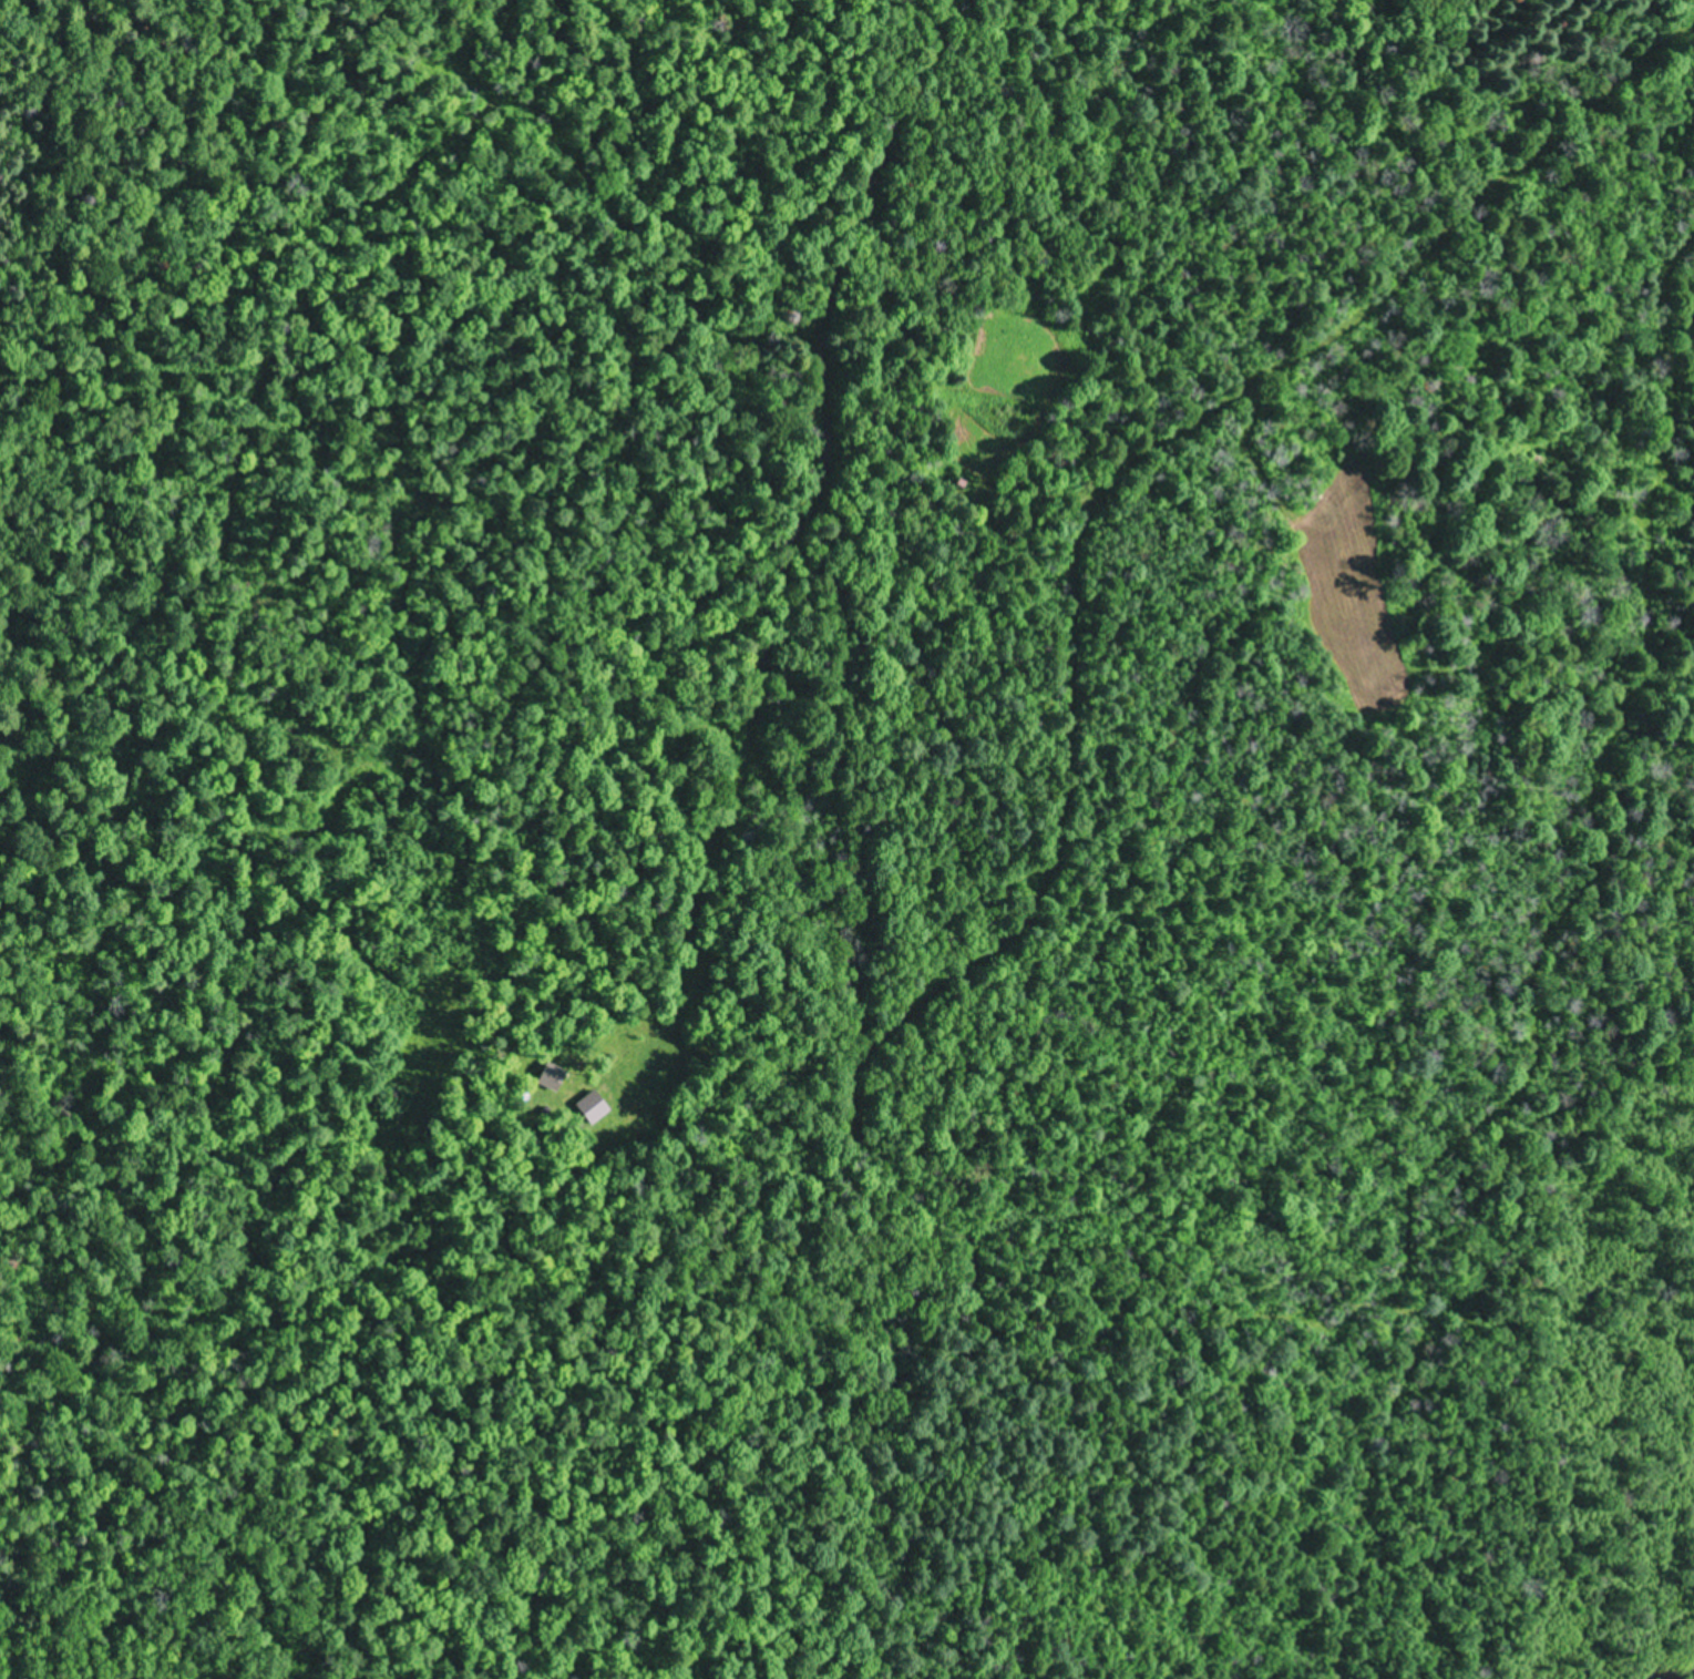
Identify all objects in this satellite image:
building: (554, 1077)
building: (594, 1108)

